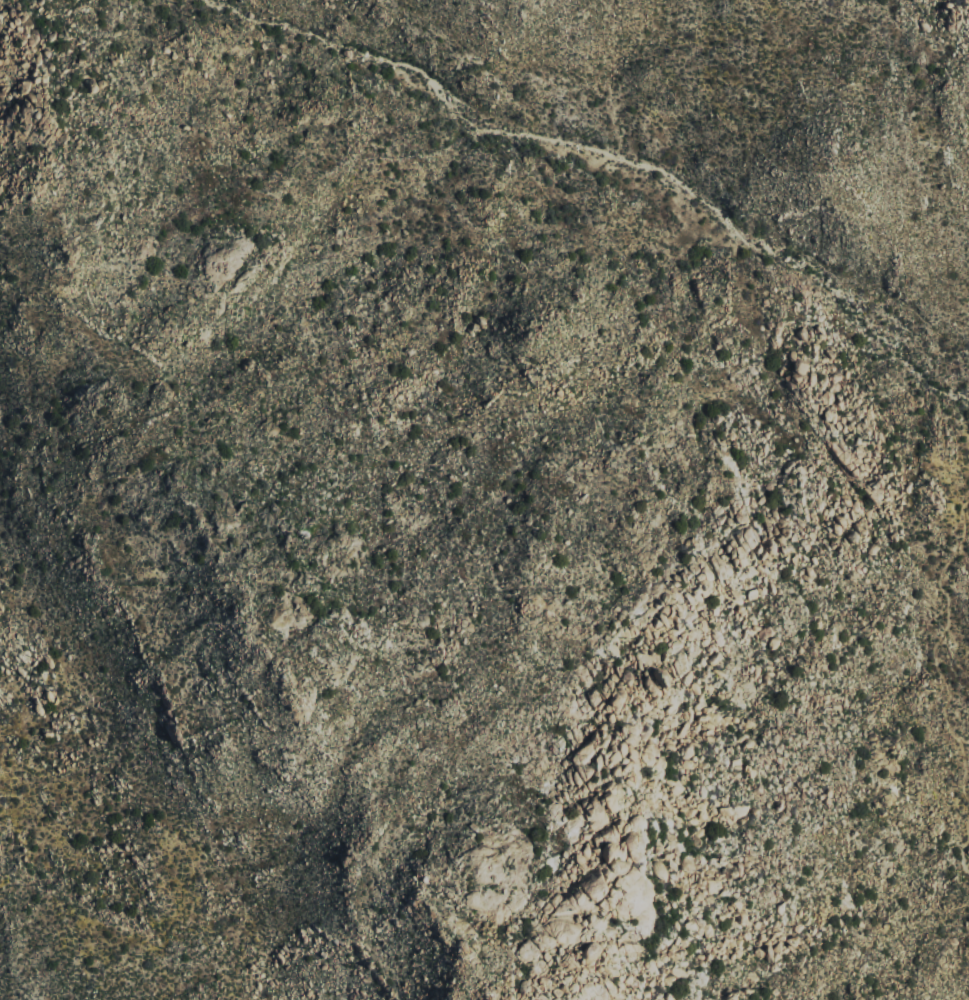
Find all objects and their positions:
park: (489, 499)

